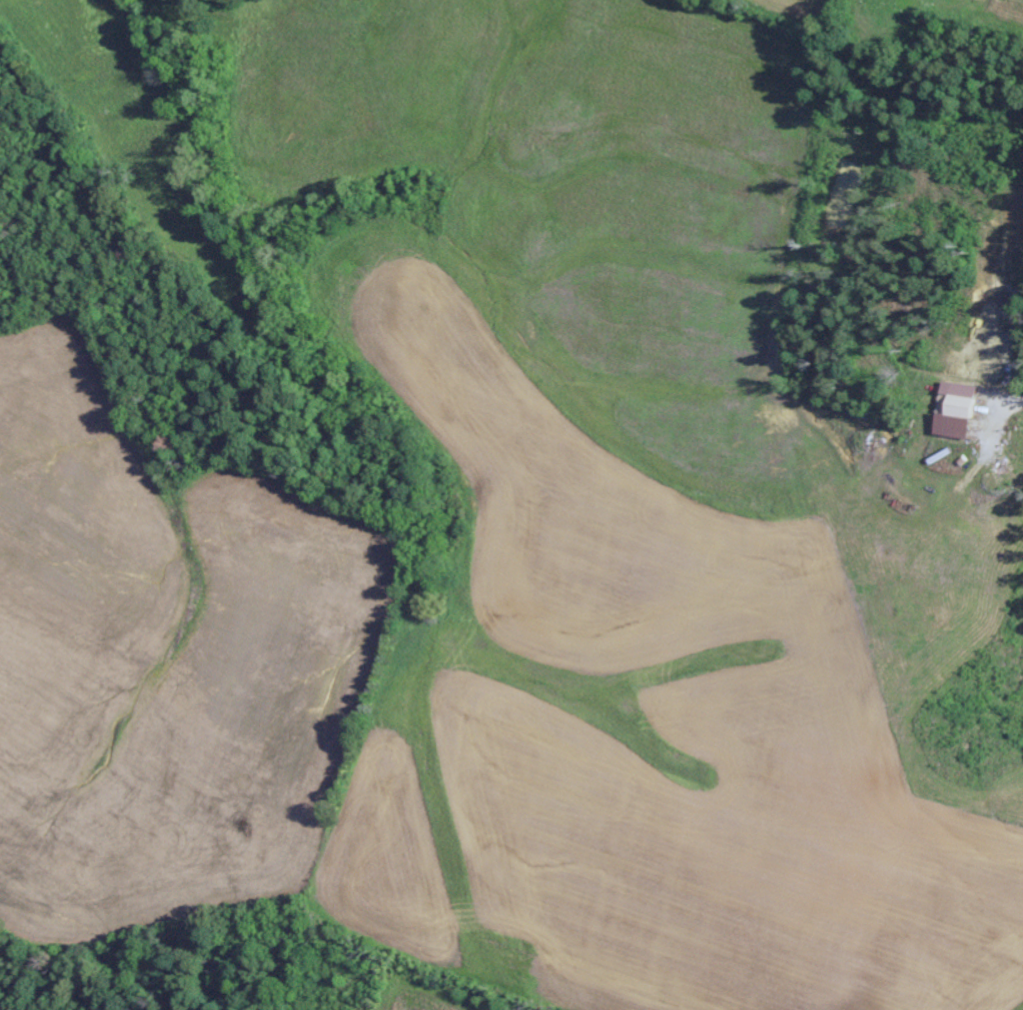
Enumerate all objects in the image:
building: (955, 411)

